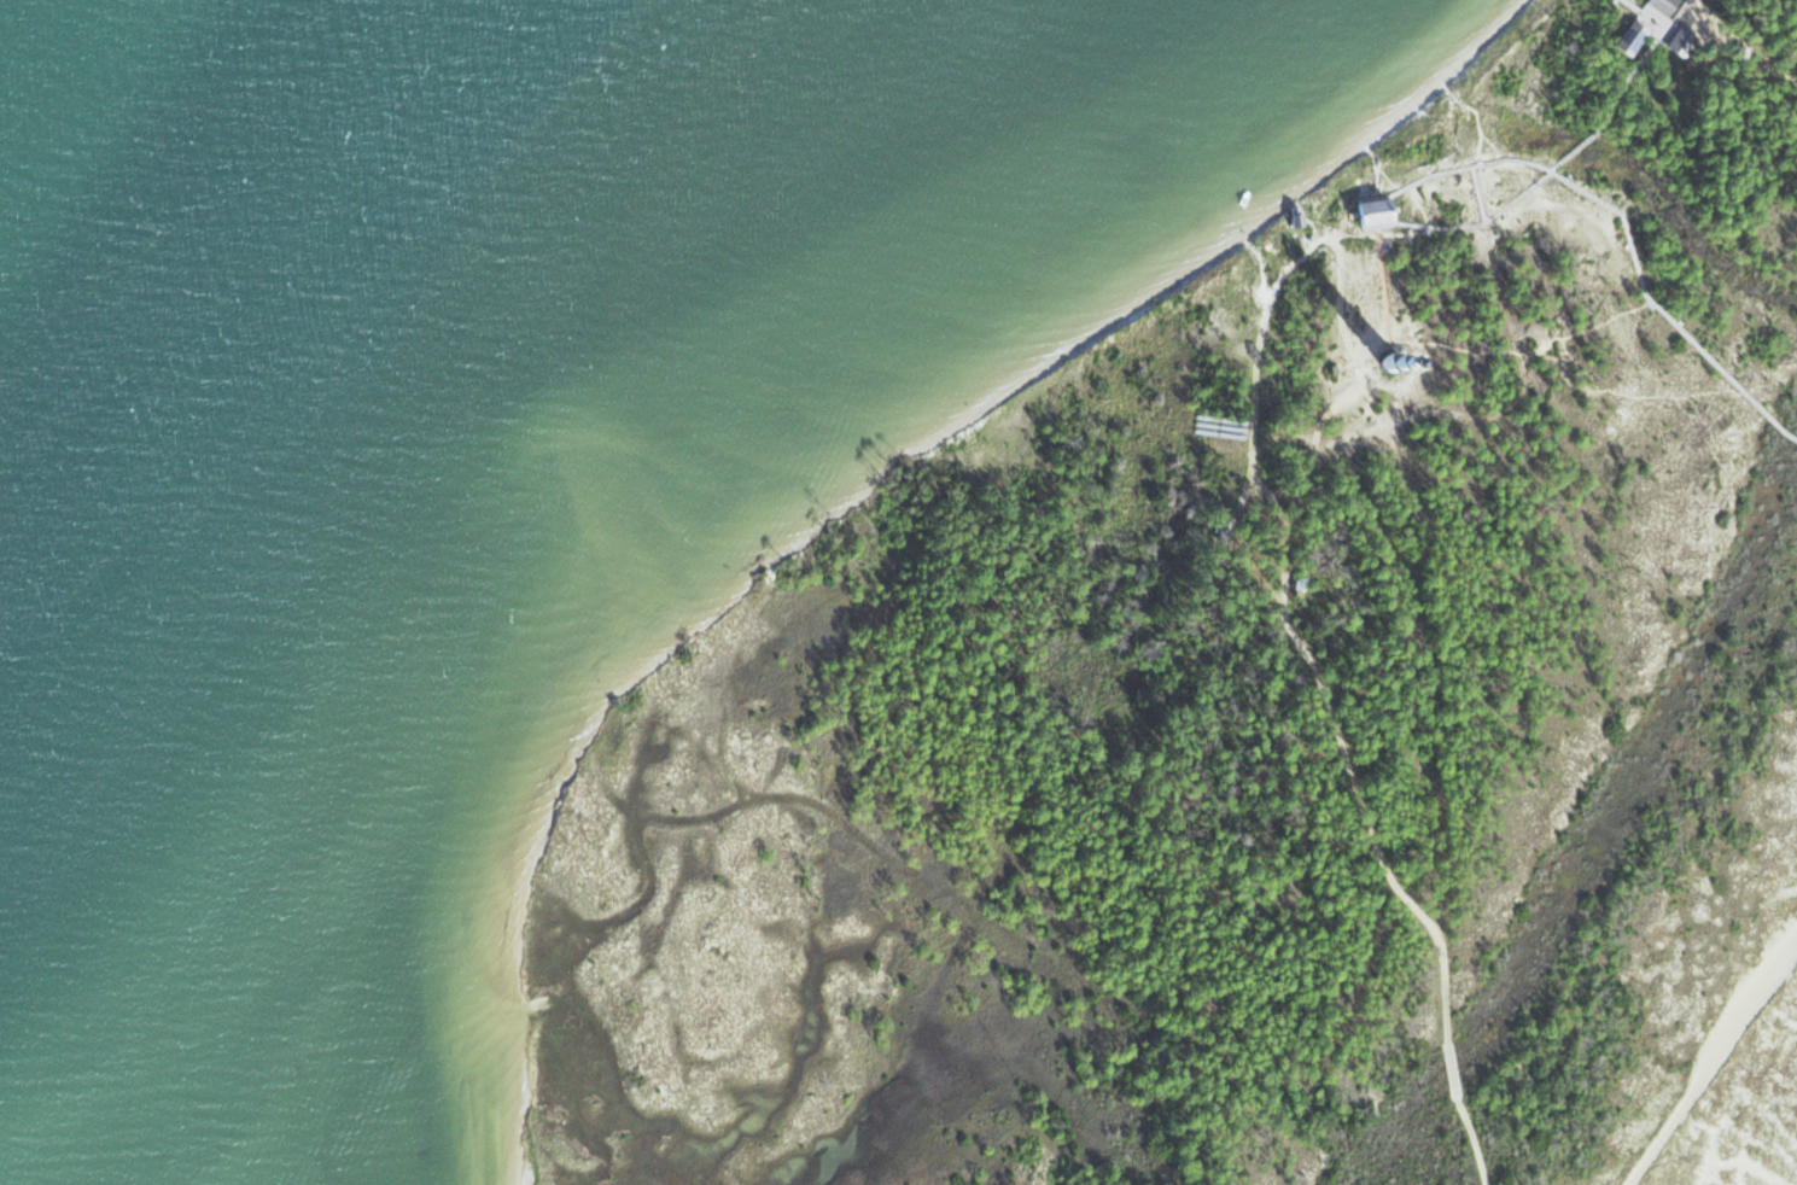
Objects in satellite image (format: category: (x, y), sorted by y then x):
road: (1616, 1)
building: (1663, 6)
road: (1692, 8)
road: (1680, 11)
road: (1657, 36)
building: (1634, 39)
building: (1682, 41)
road: (1746, 45)
building: (1744, 52)
road: (1795, 80)
road: (1477, 115)
road: (1465, 167)
road: (1550, 169)
road: (1363, 189)
road: (1478, 193)
building: (1377, 211)
building: (1297, 217)
road: (1382, 235)
road: (1256, 272)
road: (1383, 284)
road: (1657, 311)
building: (1394, 328)
road: (1576, 328)
road: (1478, 351)
building: (1391, 360)
building: (1334, 369)
road: (1355, 381)
road: (1656, 393)
road: (1504, 408)
building: (1221, 536)
road: (1230, 549)
building: (1301, 583)
road: (1293, 636)
road: (1790, 968)
road: (1711, 1061)
road: (1452, 1070)
road: (1475, 1142)

